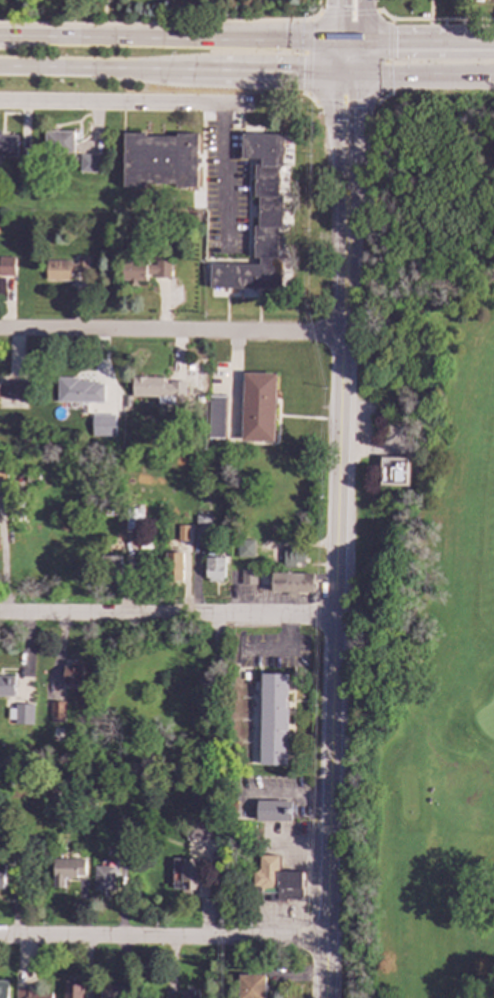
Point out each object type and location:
road: (104, 11)
road: (348, 12)
road: (333, 15)
road: (362, 15)
building: (424, 15)
road: (432, 16)
road: (425, 19)
road: (162, 23)
road: (166, 32)
road: (347, 32)
road: (396, 32)
road: (453, 33)
road: (485, 34)
road: (388, 54)
road: (306, 56)
road: (93, 67)
road: (260, 68)
road: (347, 69)
road: (427, 70)
road: (381, 97)
road: (309, 98)
road: (343, 102)
road: (125, 103)
road: (335, 124)
road: (357, 124)
building: (58, 141)
building: (7, 145)
building: (159, 160)
building: (88, 163)
road: (226, 174)
building: (260, 220)
building: (6, 268)
building: (64, 268)
building: (144, 270)
road: (170, 332)
building: (157, 388)
building: (12, 389)
building: (78, 390)
building: (258, 406)
building: (215, 416)
building: (103, 425)
building: (2, 471)
building: (394, 471)
building: (202, 525)
building: (182, 532)
building: (244, 547)
building: (302, 555)
park: (423, 557)
building: (112, 562)
building: (173, 566)
building: (214, 568)
building: (248, 577)
building: (305, 583)
road: (335, 607)
road: (167, 614)
building: (73, 673)
building: (6, 685)
building: (56, 711)
building: (22, 713)
building: (273, 719)
building: (273, 810)
building: (198, 830)
building: (67, 870)
building: (185, 874)
building: (2, 876)
building: (296, 886)
road: (163, 937)
building: (251, 986)
building: (3, 989)
building: (73, 991)
building: (110, 991)
building: (27, 993)
building: (188, 993)

